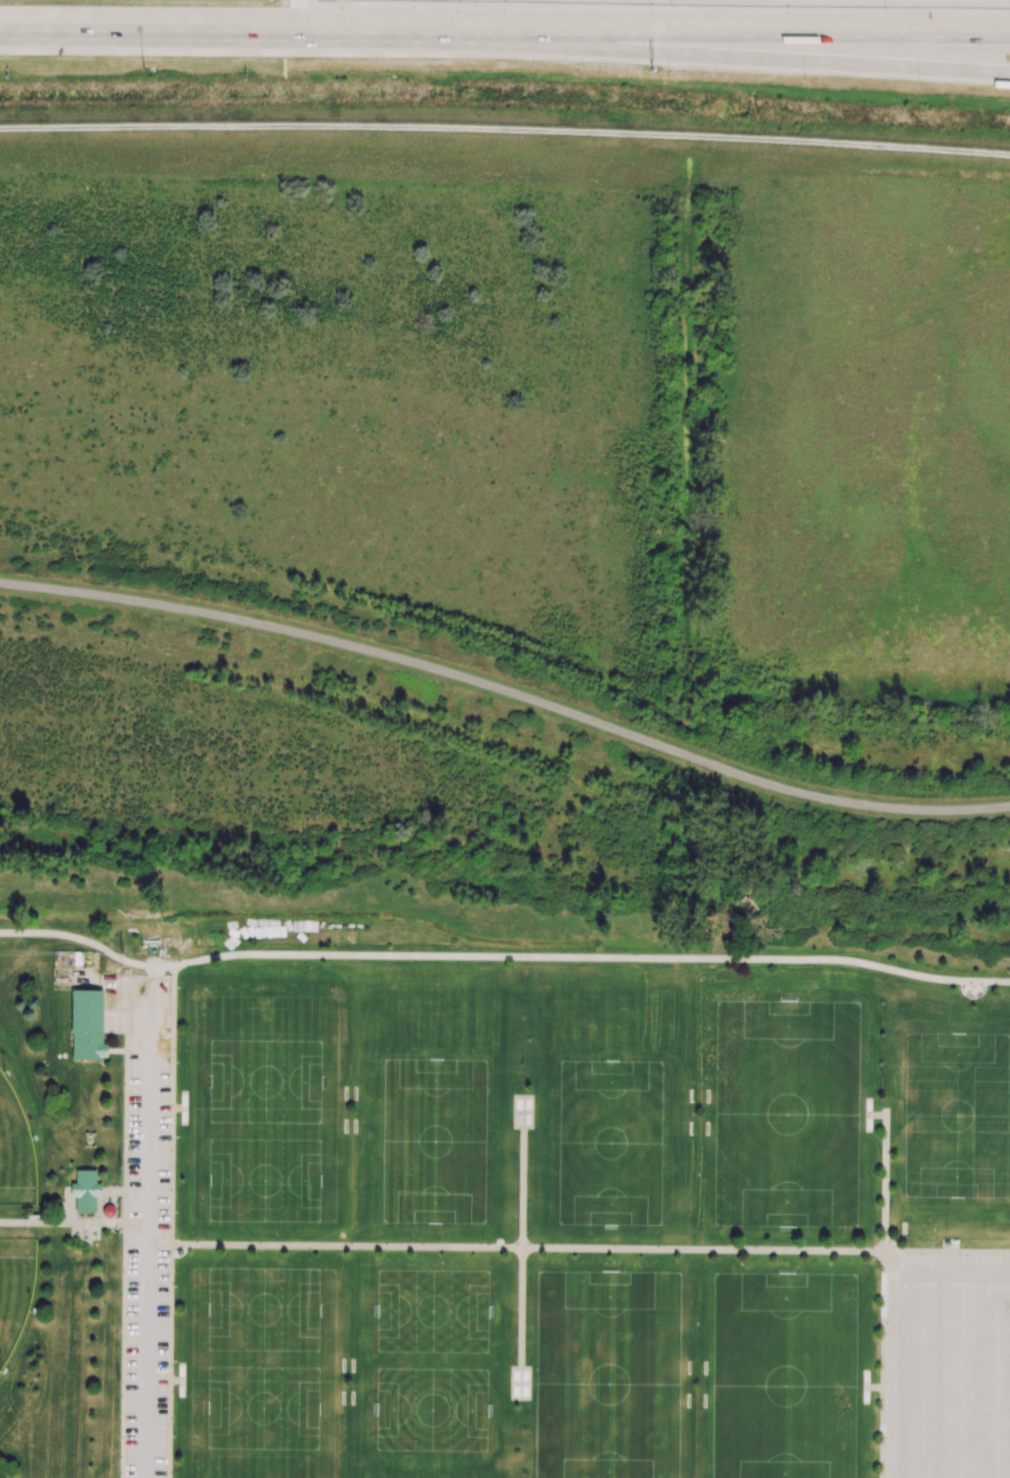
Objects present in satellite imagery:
street lamp: (670, 6)
street lamp: (885, 9)
road: (247, 31)
road: (752, 35)
road: (752, 57)
street lamp: (143, 68)
street lamp: (668, 71)
street lamp: (804, 81)
street lamp: (919, 86)
road: (507, 691)
road: (89, 943)
road: (592, 959)
building: (87, 1025)
park: (738, 1032)
park: (818, 1057)
park: (936, 1069)
park: (998, 1070)
road: (869, 1107)
park: (265, 1109)
road: (869, 1121)
park: (434, 1141)
park: (611, 1143)
park: (15, 1152)
park: (936, 1161)
park: (998, 1163)
park: (756, 1170)
road: (885, 1174)
building: (85, 1191)
park: (837, 1196)
road: (171, 1221)
road: (150, 1222)
road: (75, 1223)
road: (516, 1247)
road: (522, 1247)
road: (947, 1252)
parking lot: (147, 1267)
road: (957, 1275)
park: (15, 1291)
park: (558, 1302)
park: (836, 1304)
park: (639, 1327)
park: (755, 1329)
park: (433, 1352)
road: (883, 1365)
parking lot: (948, 1367)
park: (263, 1373)
road: (904, 1376)
road: (942, 1376)
road: (980, 1377)
road: (867, 1387)
road: (866, 1393)
park: (577, 1431)
park: (814, 1432)
park: (658, 1456)
park: (733, 1457)

